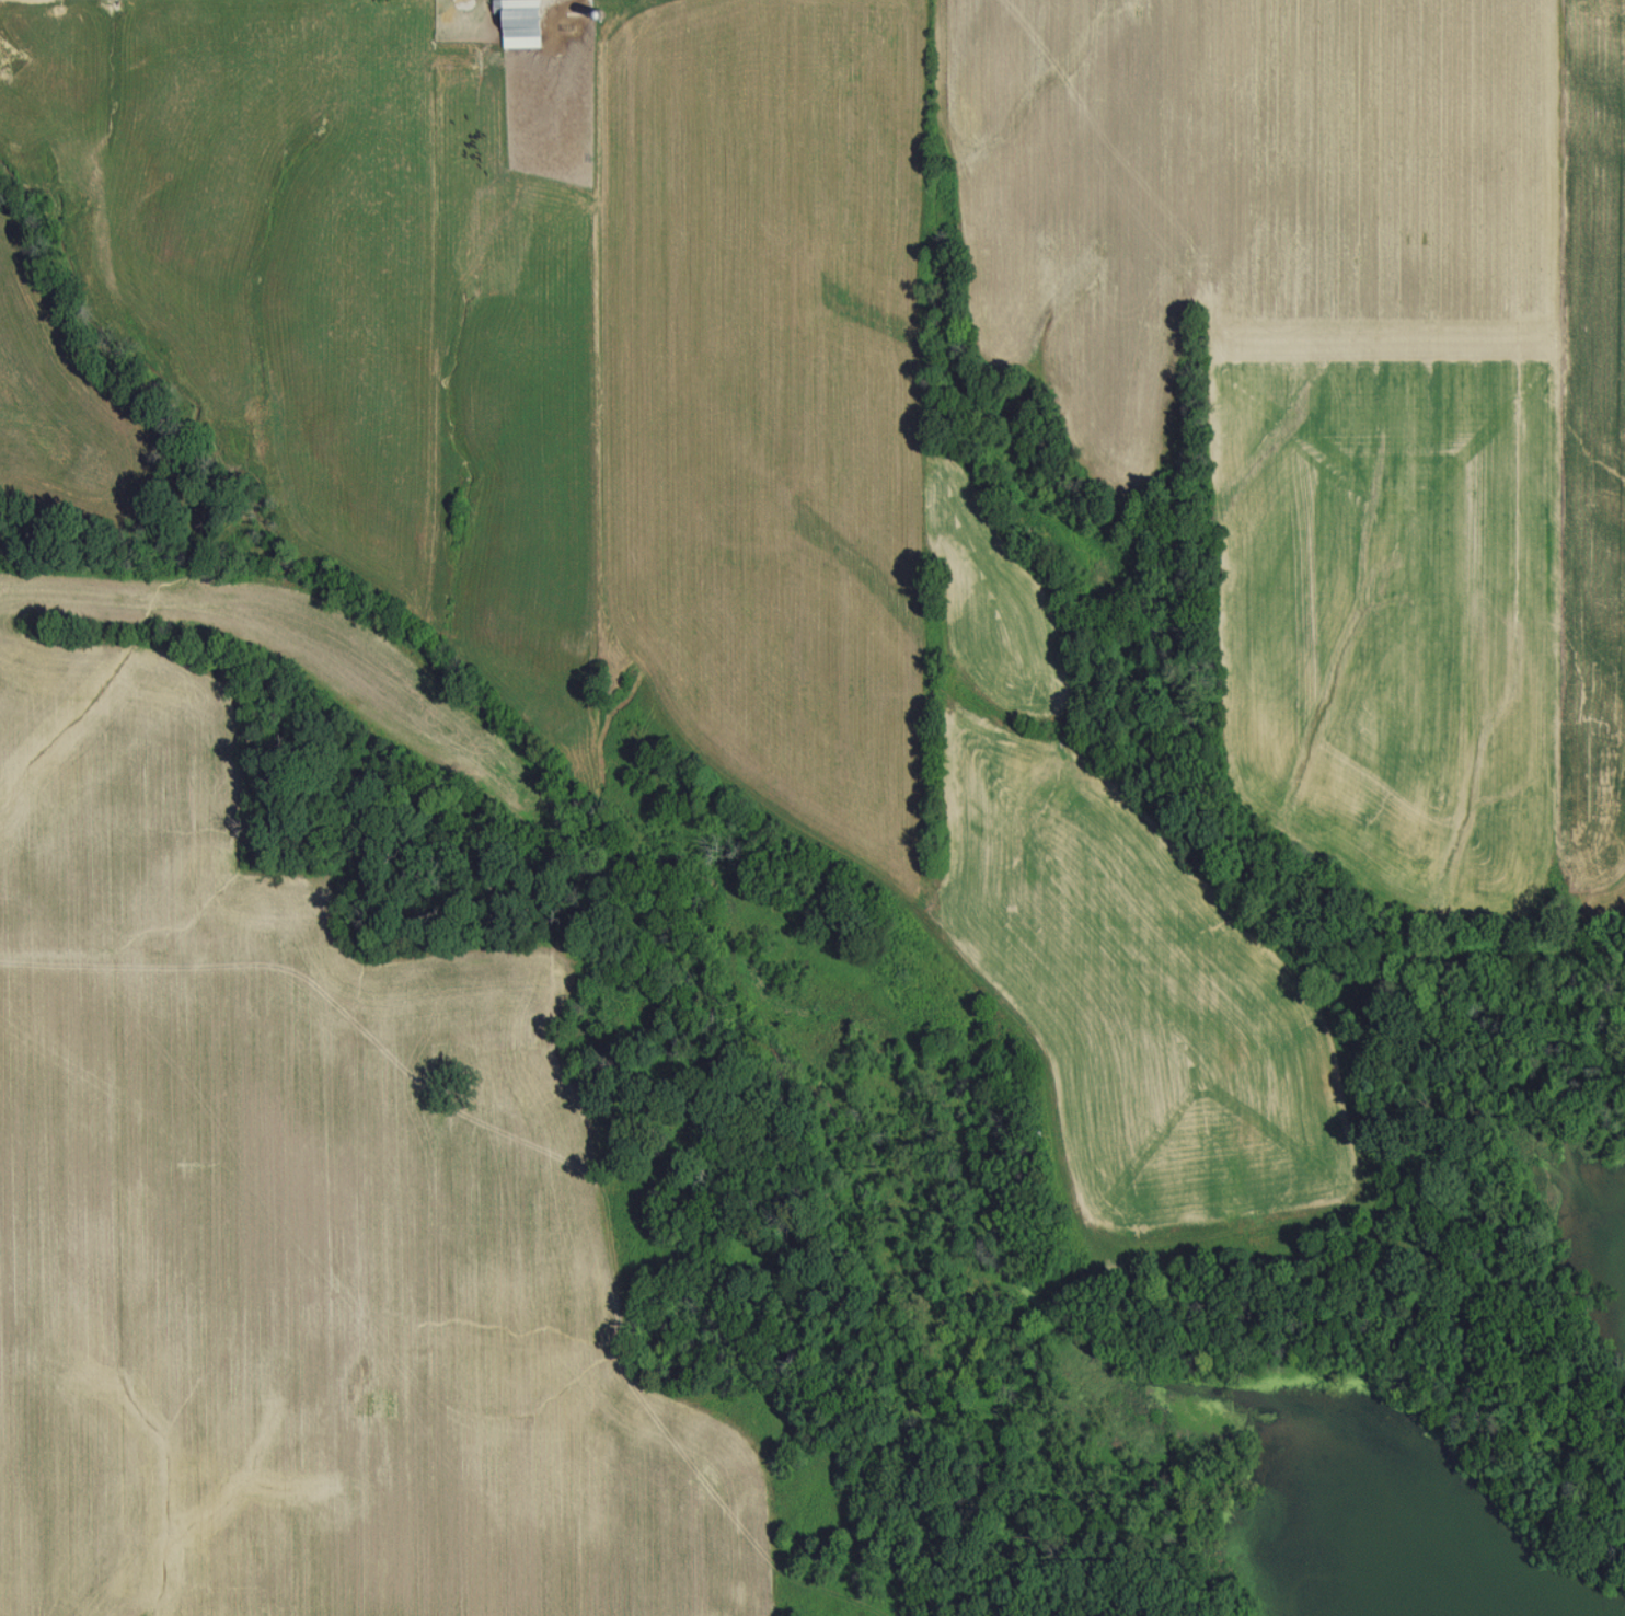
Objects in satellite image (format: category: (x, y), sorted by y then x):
building: (515, 22)

